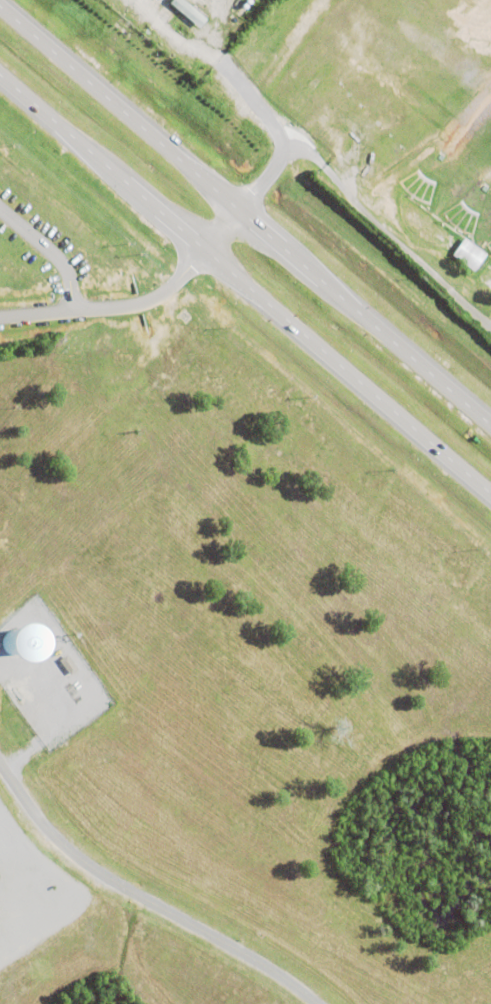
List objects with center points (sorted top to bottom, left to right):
building: (188, 14)
building: (299, 102)
road: (258, 111)
road: (245, 217)
road: (388, 232)
road: (48, 251)
building: (471, 253)
road: (245, 286)
building: (473, 300)
road: (111, 305)
water tower: (12, 641)
building: (69, 664)
road: (143, 898)

